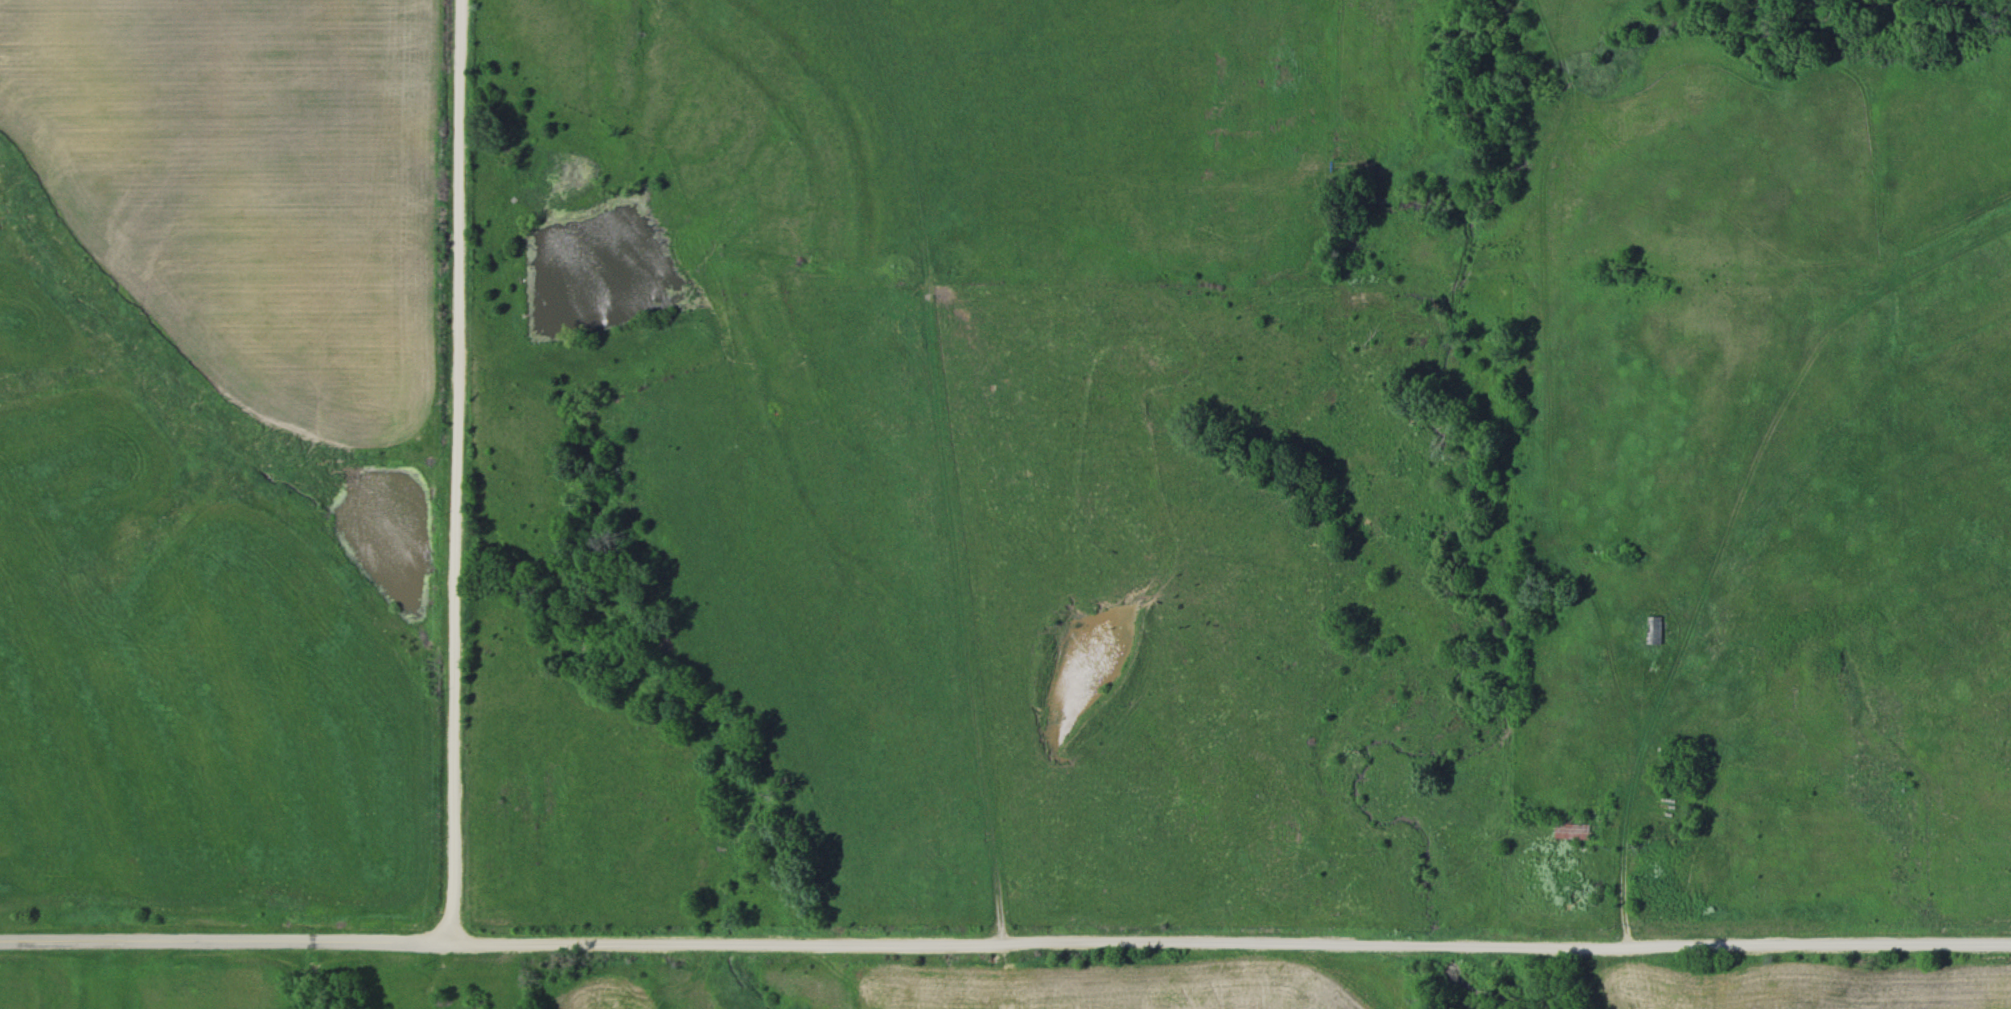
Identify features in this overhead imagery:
road: (459, 471)
building: (1650, 629)
building: (1557, 830)
road: (227, 940)
road: (1232, 944)

